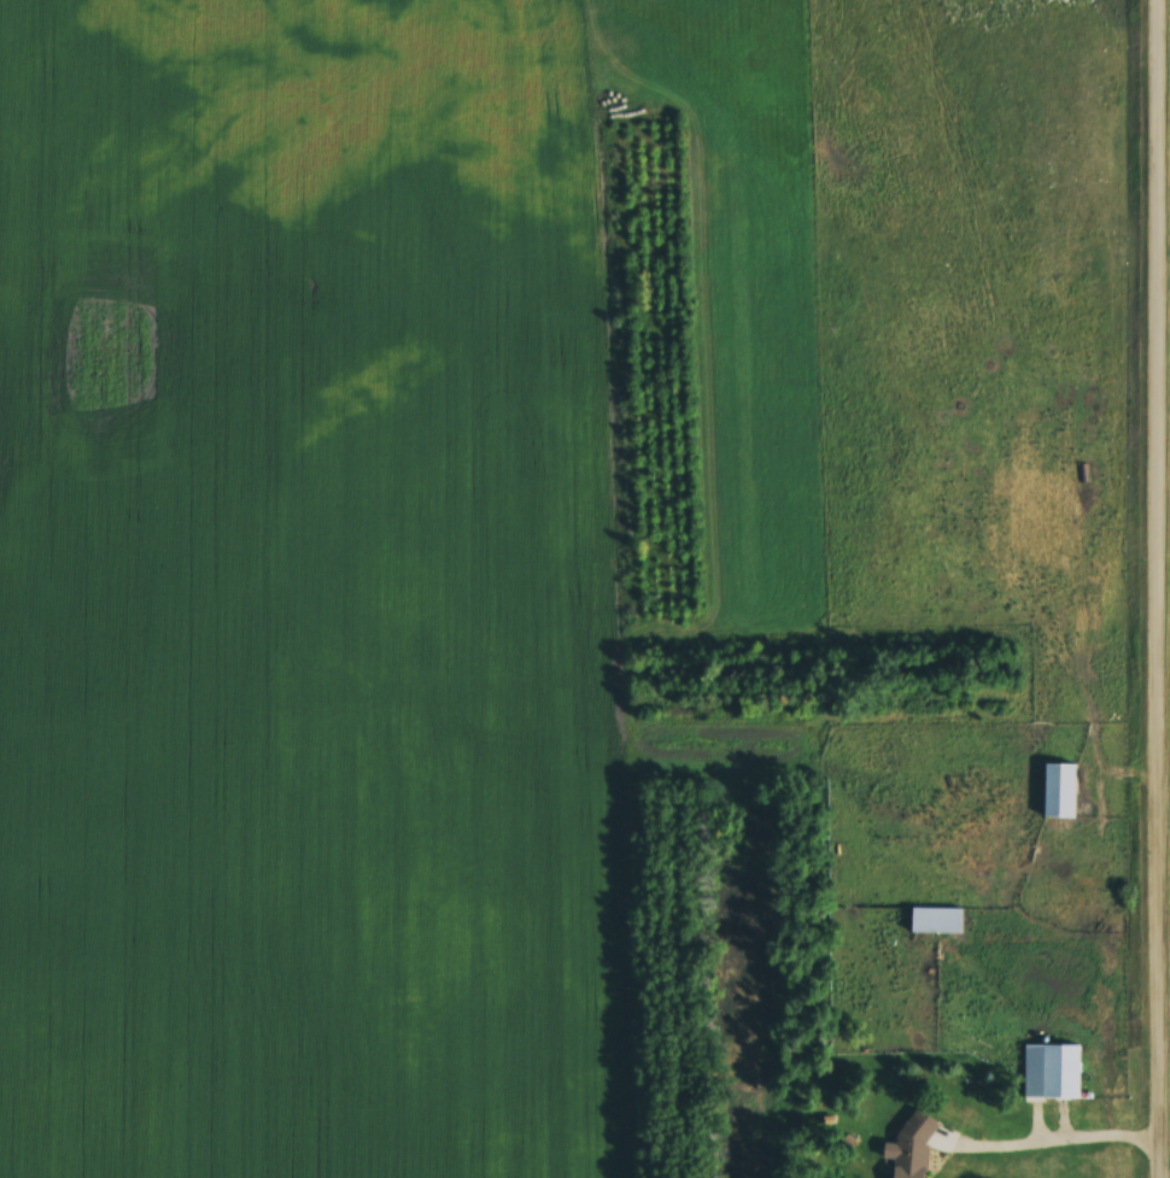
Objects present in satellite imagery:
road: (1165, 588)
building: (1052, 791)
building: (930, 921)
building: (1046, 1072)
building: (906, 1148)

